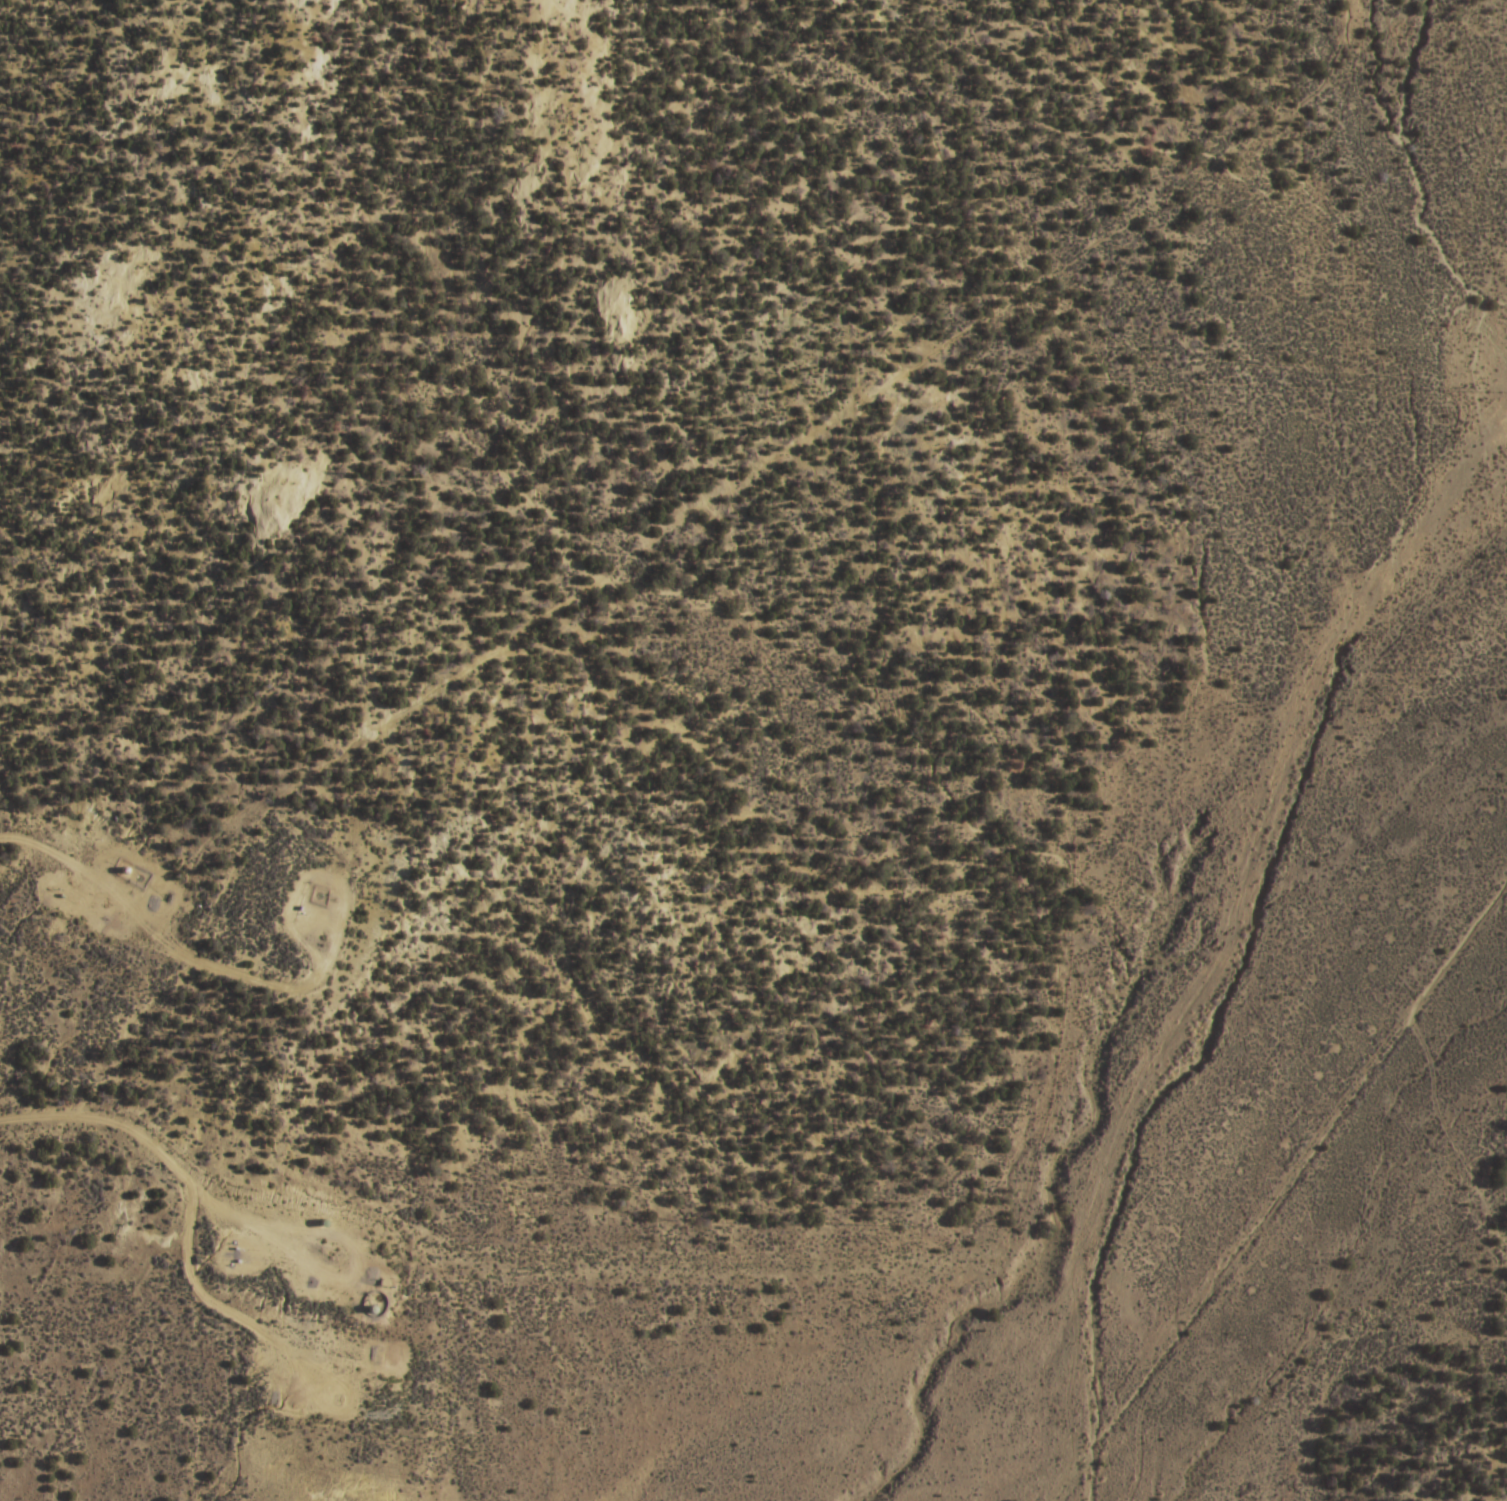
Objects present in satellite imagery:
road: (1272, 1159)

